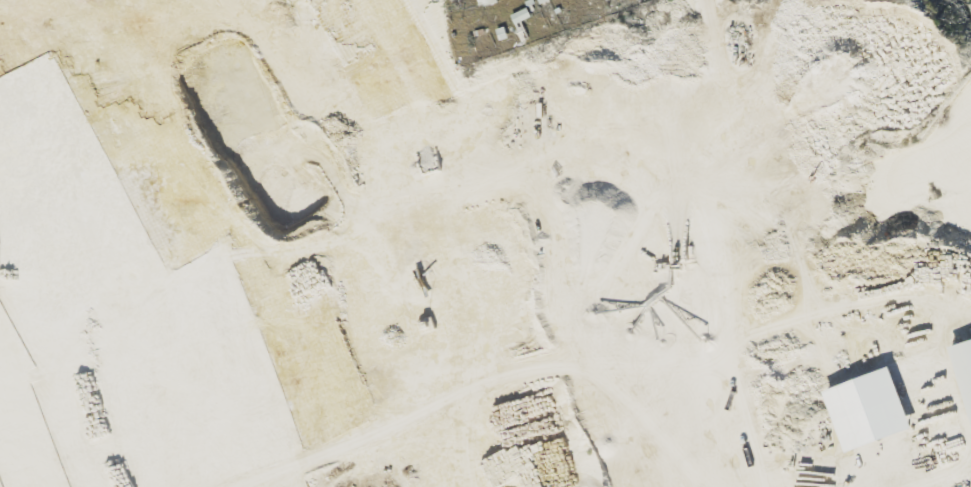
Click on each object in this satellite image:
building: (492, 1)
building: (520, 14)
quarry: (500, 232)
building: (964, 366)
building: (868, 408)

